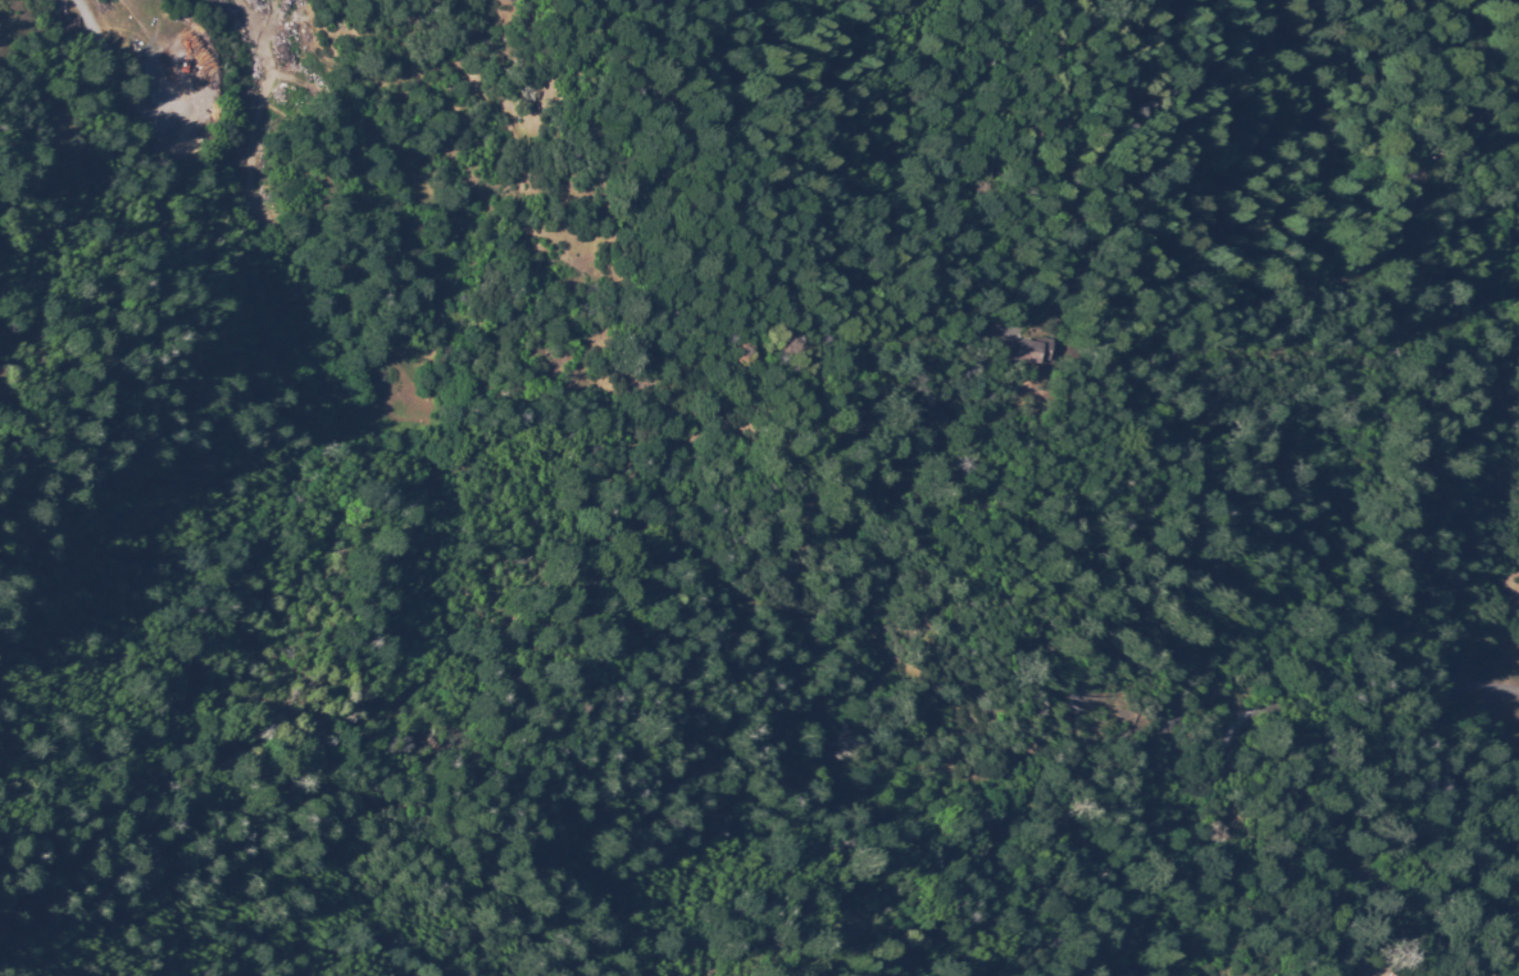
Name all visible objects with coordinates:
building: (1031, 350)
building: (1169, 831)
building: (1087, 835)

